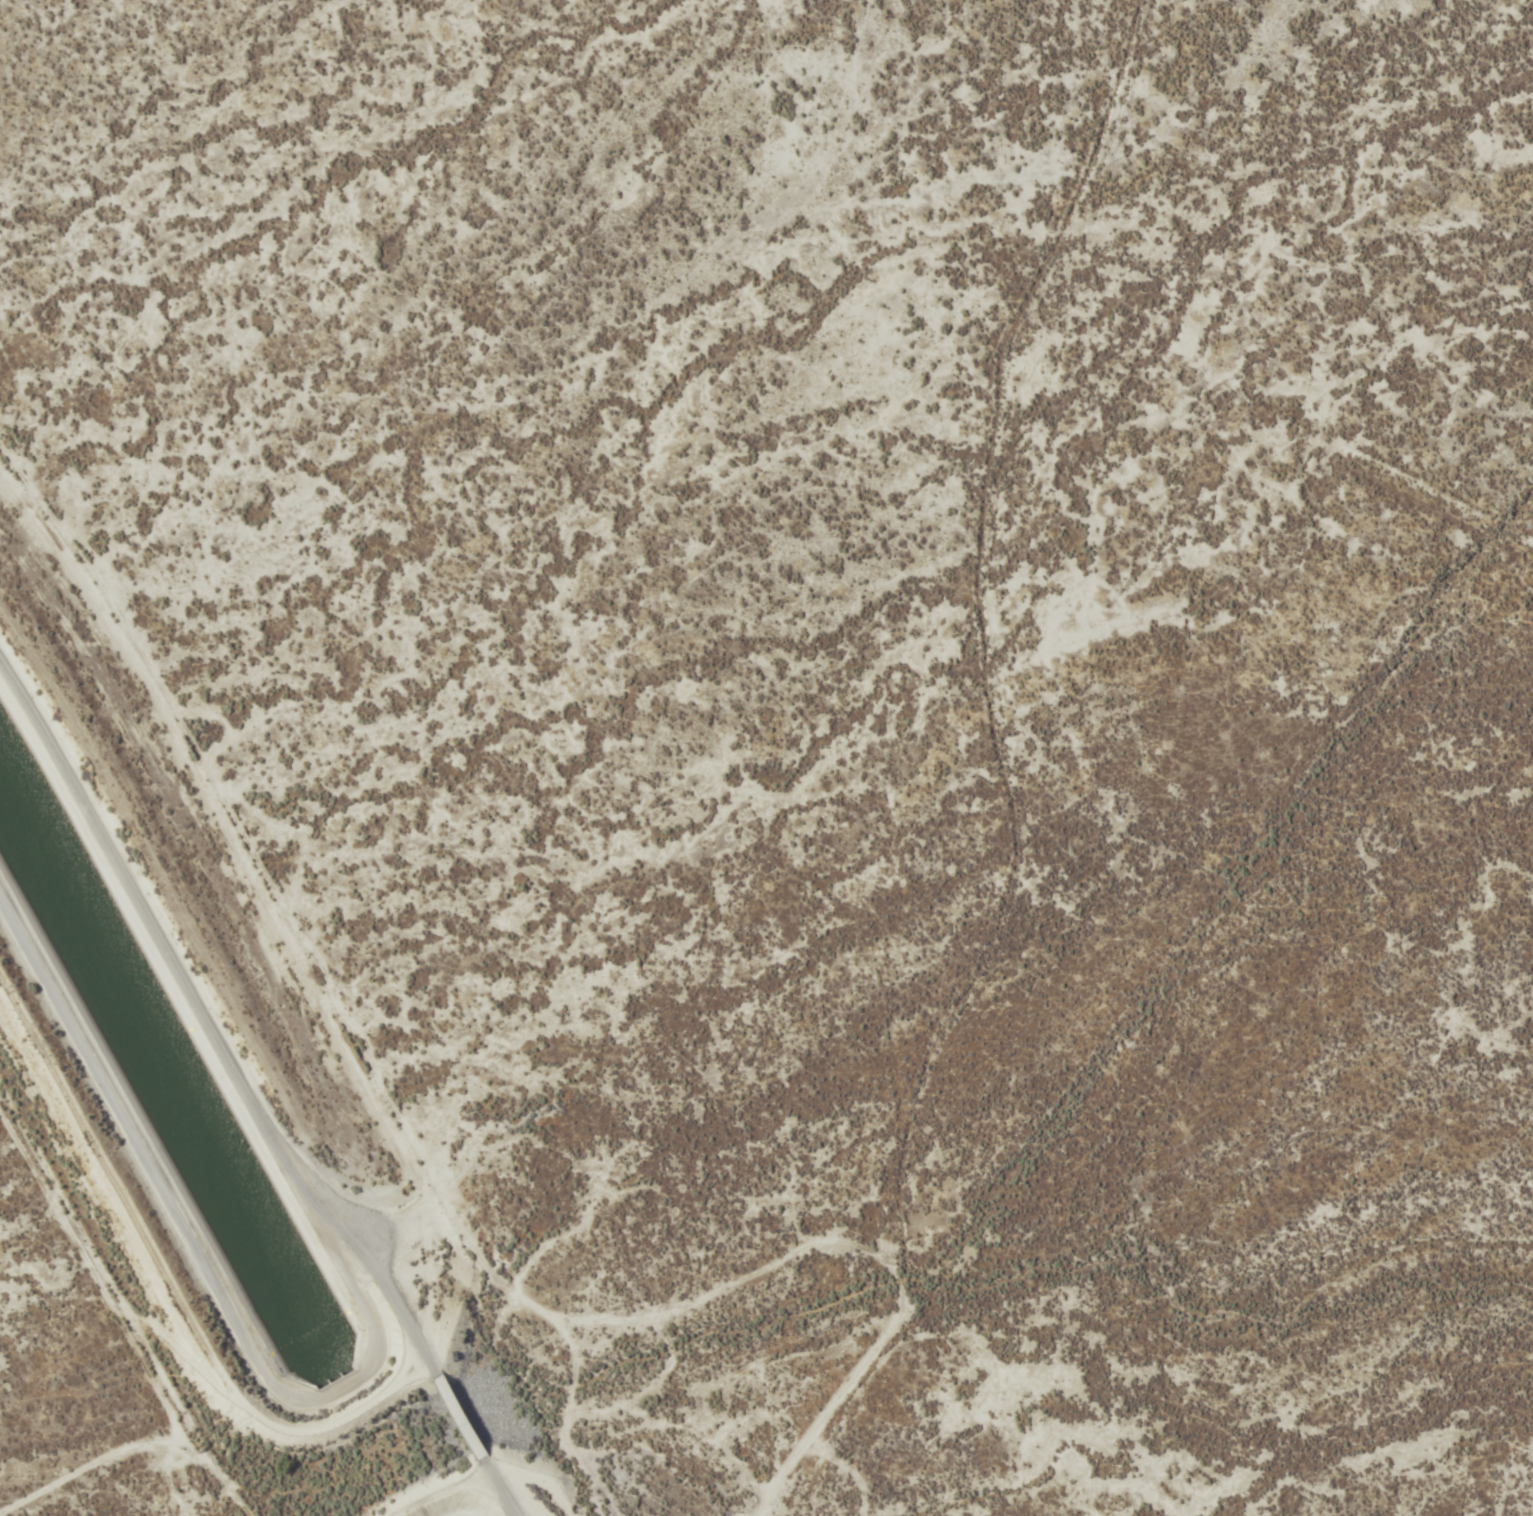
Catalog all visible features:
crop: (874, 684)
road: (248, 1097)
road: (169, 1285)

